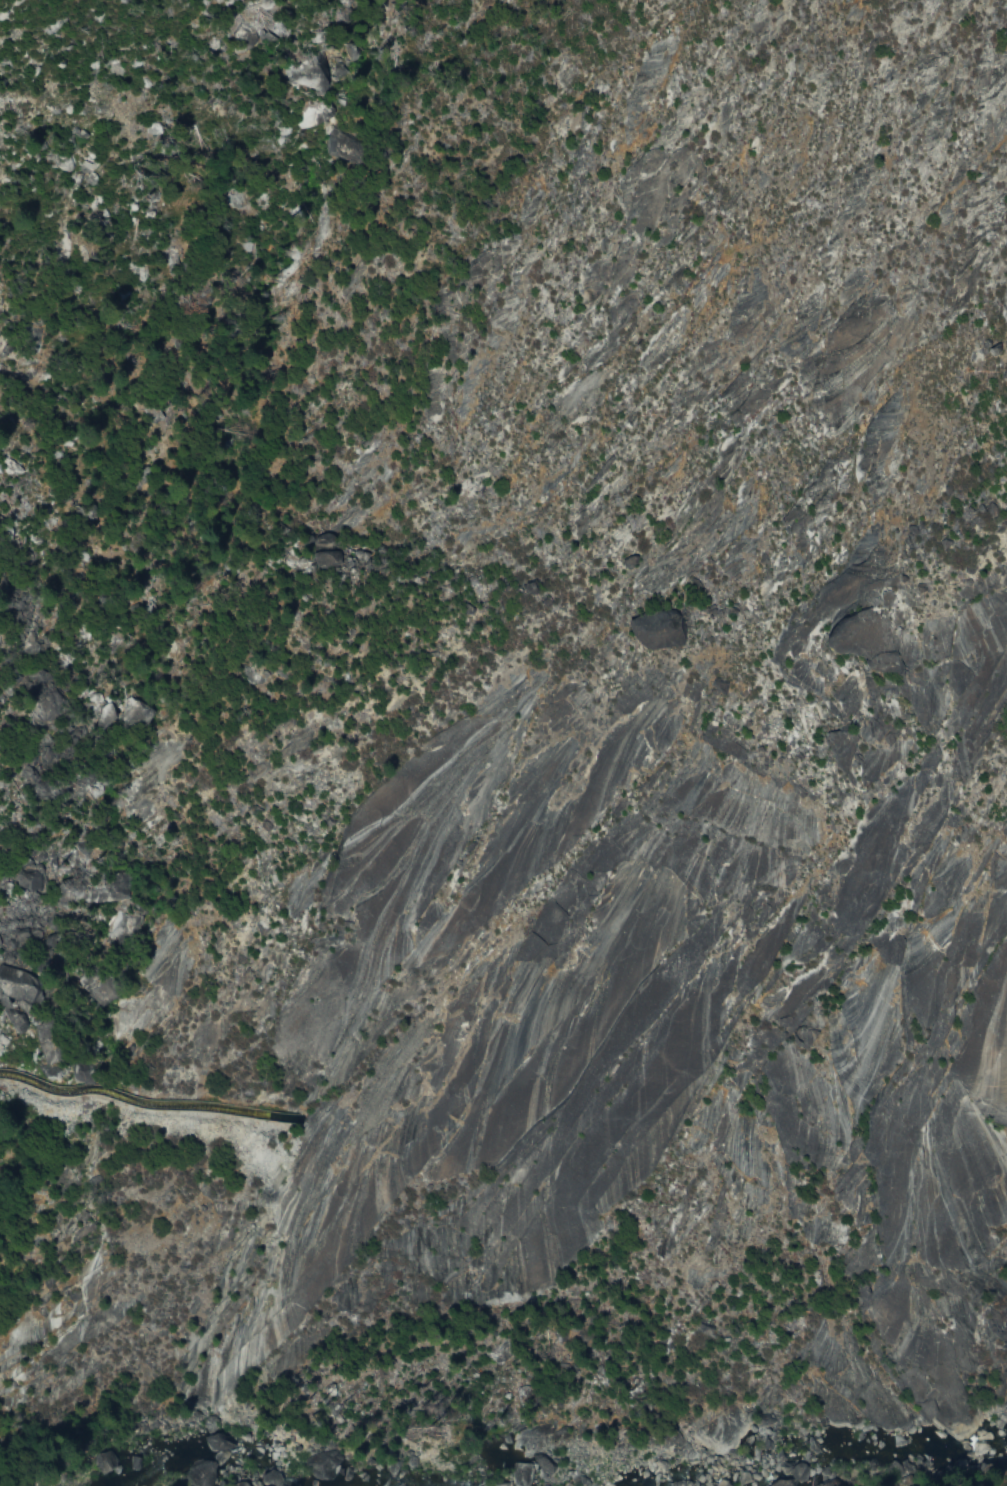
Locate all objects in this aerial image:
river: (860, 1457)

